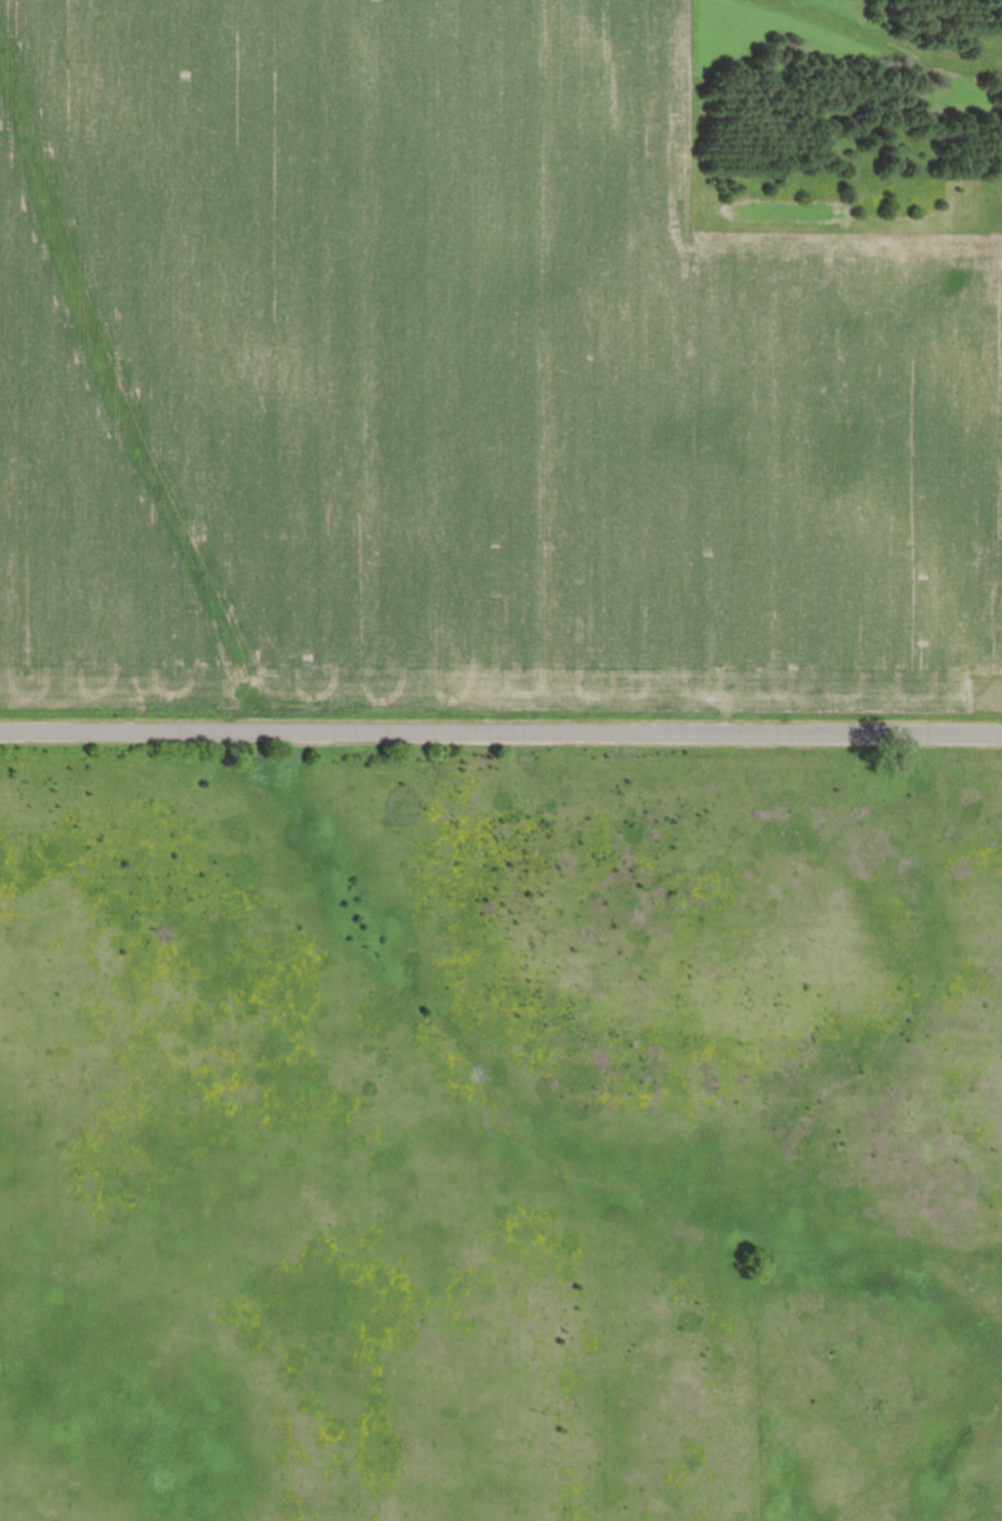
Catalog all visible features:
road: (501, 733)
park: (500, 1127)

